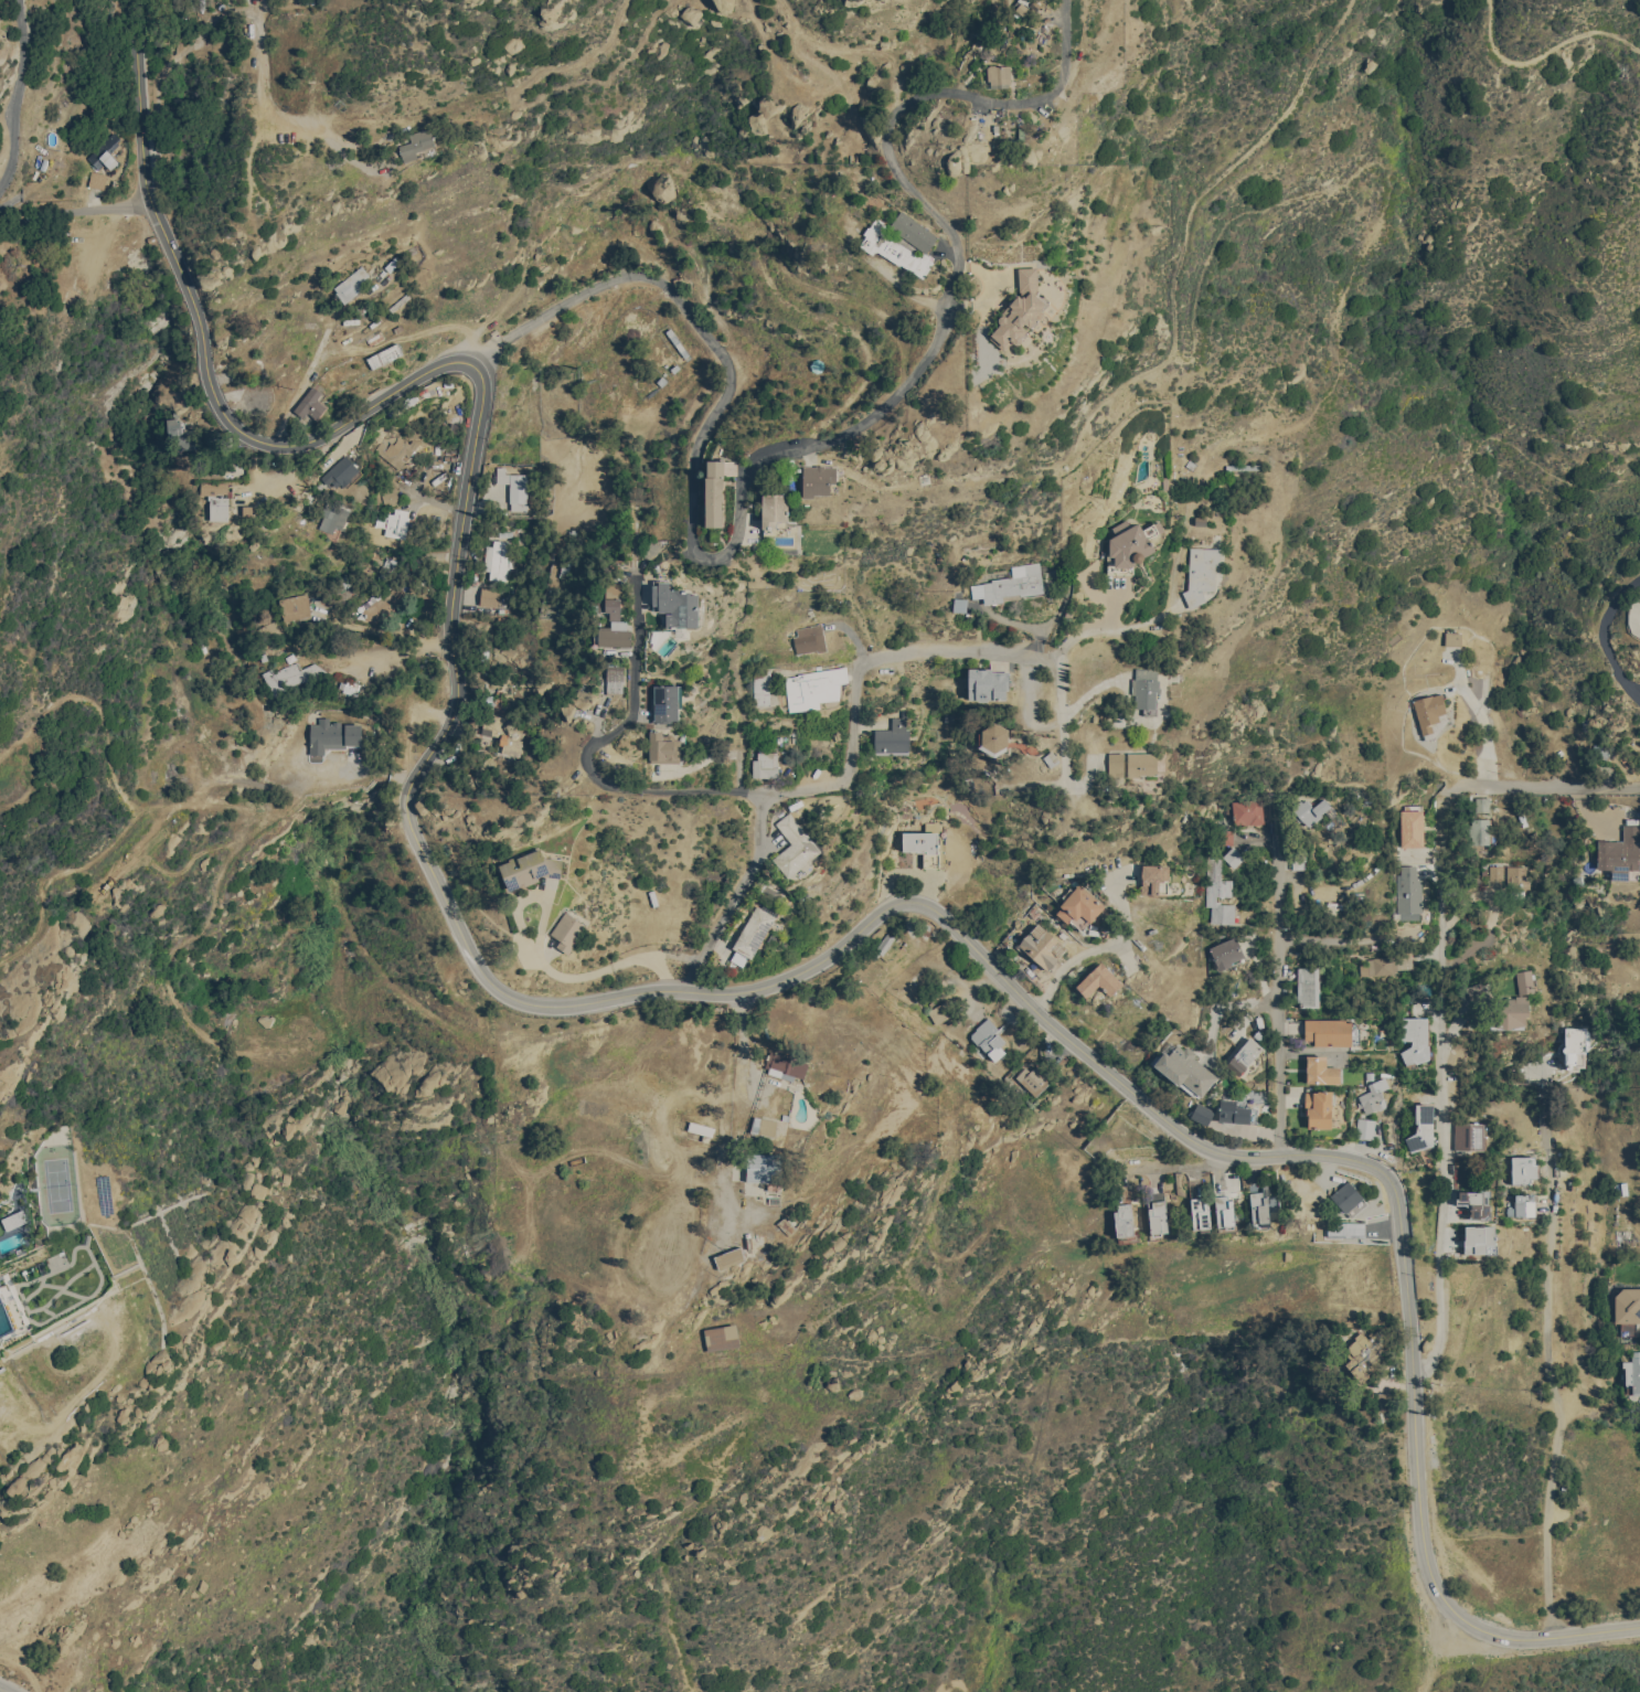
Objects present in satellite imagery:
building: (722, 4)
road: (200, 31)
road: (1541, 58)
building: (998, 74)
road: (260, 87)
road: (17, 96)
building: (414, 143)
building: (105, 151)
building: (95, 179)
road: (691, 188)
road: (74, 210)
road: (571, 212)
road: (1619, 223)
building: (912, 231)
road: (960, 248)
building: (906, 256)
building: (350, 284)
building: (1019, 309)
road: (700, 329)
road: (203, 342)
road: (320, 342)
road: (361, 348)
road: (1162, 360)
building: (309, 404)
building: (177, 434)
building: (397, 451)
road: (316, 462)
building: (341, 472)
building: (817, 479)
building: (513, 488)
building: (713, 492)
building: (387, 494)
building: (215, 500)
building: (774, 511)
building: (333, 517)
building: (393, 522)
building: (1127, 543)
building: (496, 558)
building: (1200, 573)
road: (452, 581)
building: (1013, 583)
building: (609, 589)
building: (488, 596)
building: (386, 602)
building: (675, 605)
building: (294, 606)
building: (611, 624)
road: (1097, 634)
road: (1612, 634)
building: (808, 638)
building: (1451, 638)
road: (396, 650)
road: (935, 659)
building: (290, 675)
building: (614, 681)
building: (987, 683)
building: (760, 687)
building: (812, 688)
building: (1144, 690)
building: (664, 702)
building: (573, 703)
building: (1427, 711)
building: (503, 733)
building: (332, 735)
building: (892, 736)
building: (993, 739)
building: (662, 748)
road: (597, 749)
building: (764, 764)
building: (1131, 764)
road: (1537, 785)
road: (406, 799)
building: (1482, 804)
building: (1311, 810)
building: (1247, 811)
building: (1412, 826)
building: (1480, 831)
building: (1224, 837)
building: (795, 845)
building: (923, 847)
building: (1620, 853)
building: (1233, 856)
building: (1298, 859)
building: (530, 869)
building: (1494, 872)
building: (1154, 879)
building: (1517, 880)
building: (1217, 891)
building: (1409, 893)
road: (735, 896)
building: (1079, 907)
building: (567, 932)
building: (752, 935)
road: (1342, 937)
road: (971, 945)
road: (1099, 946)
building: (1041, 947)
building: (1226, 953)
road: (539, 961)
building: (1382, 965)
road: (1280, 976)
building: (1099, 977)
building: (1524, 981)
building: (1308, 987)
building: (941, 1012)
building: (1509, 1012)
building: (1331, 1032)
building: (989, 1039)
building: (1415, 1039)
building: (1575, 1047)
building: (1243, 1056)
building: (786, 1066)
building: (1185, 1068)
building: (1321, 1071)
road: (744, 1075)
building: (1032, 1079)
road: (1444, 1092)
building: (1373, 1096)
building: (1319, 1108)
building: (1233, 1111)
building: (1202, 1114)
building: (763, 1126)
building: (701, 1128)
building: (1365, 1128)
building: (1423, 1128)
building: (1470, 1135)
road: (1180, 1164)
building: (764, 1167)
building: (1346, 1196)
building: (1476, 1202)
building: (1523, 1205)
building: (1259, 1207)
building: (1224, 1211)
building: (1201, 1213)
building: (1158, 1217)
building: (1123, 1220)
building: (1346, 1228)
building: (1480, 1238)
building: (730, 1258)
road: (979, 1291)
building: (1628, 1309)
building: (7, 1310)
road: (813, 1324)
building: (722, 1338)
building: (1367, 1352)
road: (1547, 1353)
road: (878, 1355)
building: (1632, 1374)
building: (1387, 1398)
road: (1445, 1600)
road: (1435, 1651)
road: (3, 1690)

